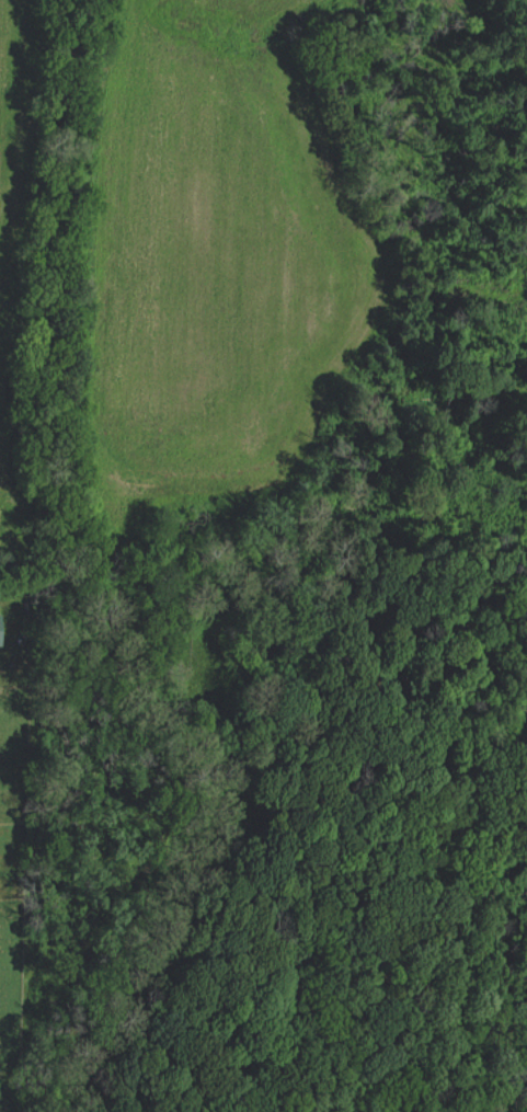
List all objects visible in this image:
building: (0, 633)

